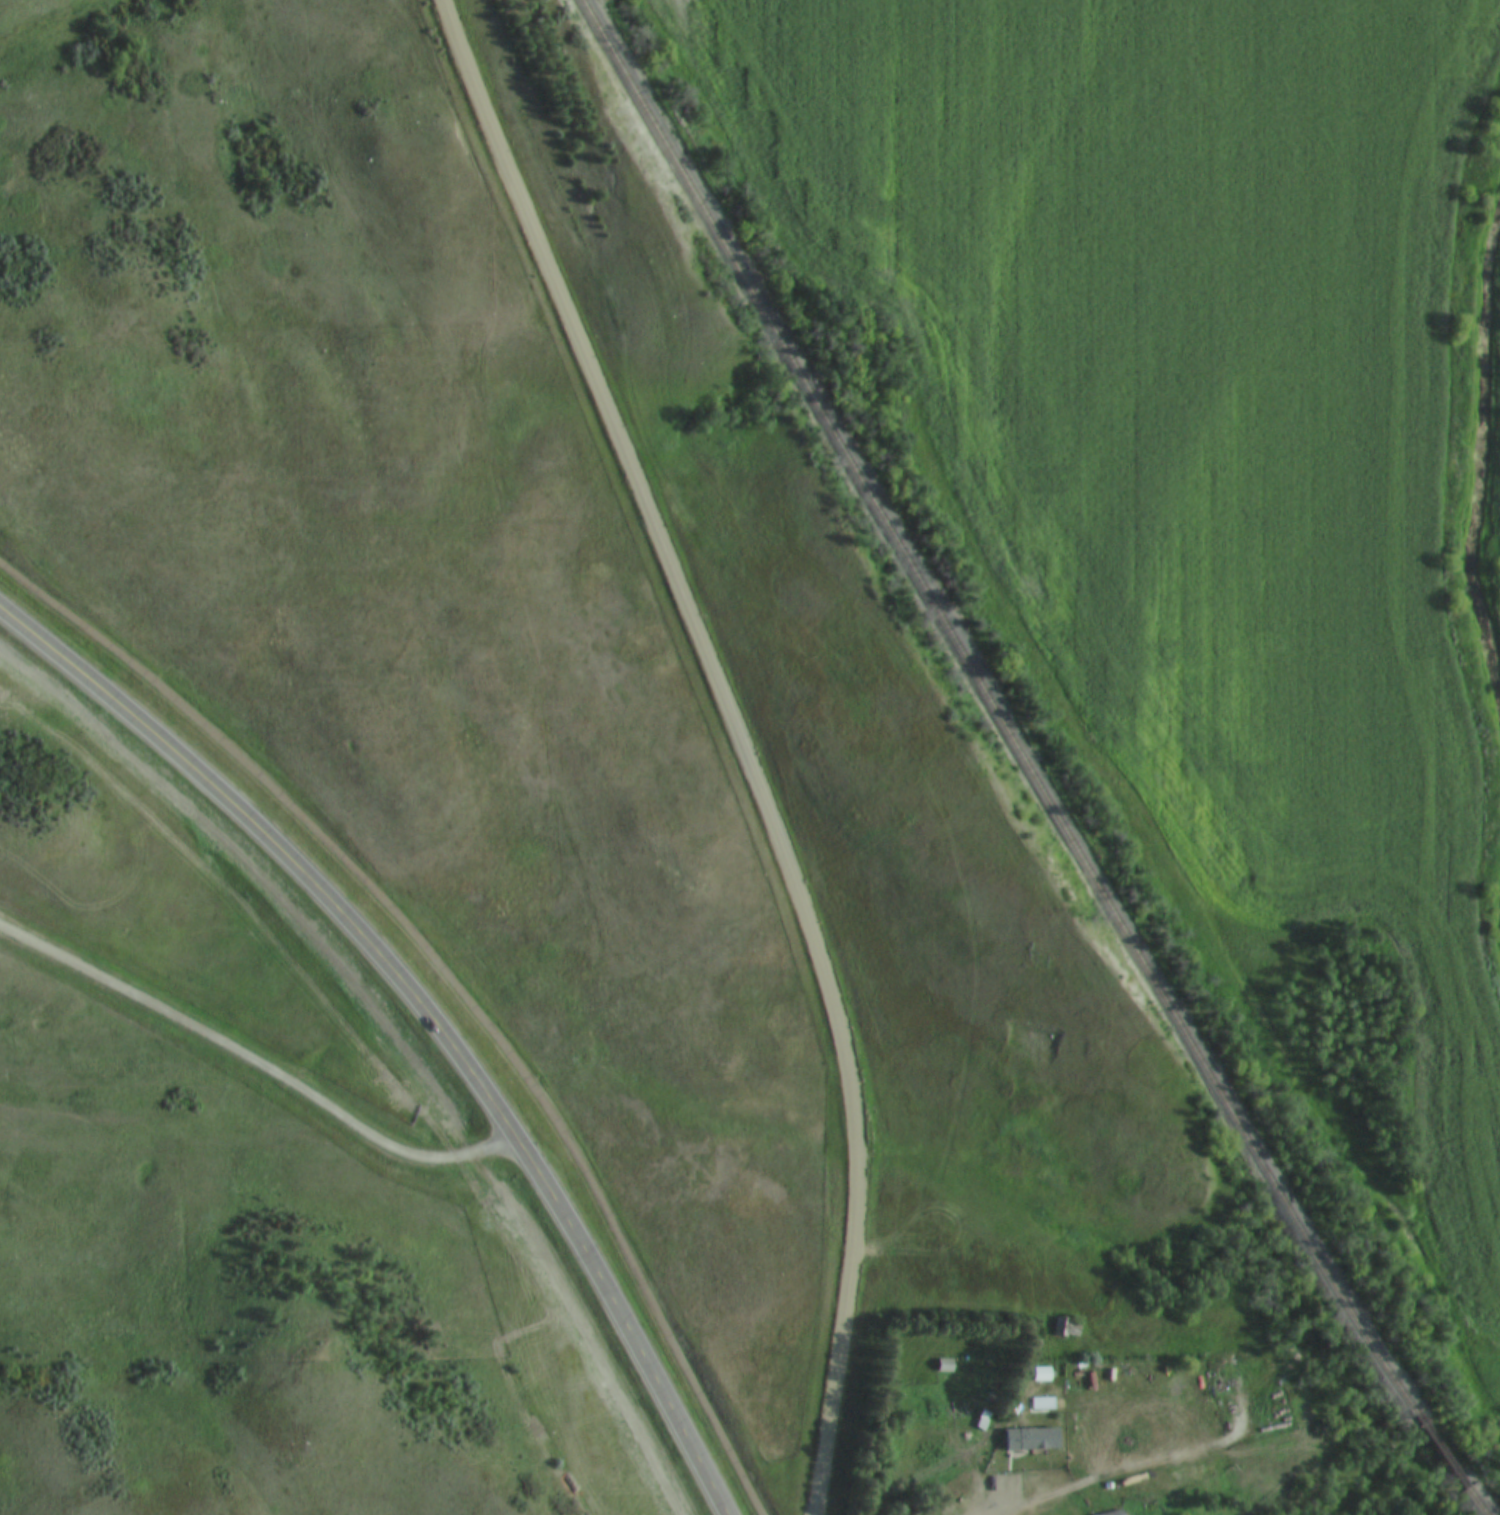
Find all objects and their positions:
railway: (987, 710)
road: (743, 738)
road: (454, 979)
road: (428, 1008)
road: (255, 1059)
building: (1065, 1328)
building: (942, 1366)
building: (1037, 1375)
building: (1027, 1438)
railway: (1439, 1450)
railway: (1475, 1500)
road: (988, 1510)
building: (1112, 1513)

